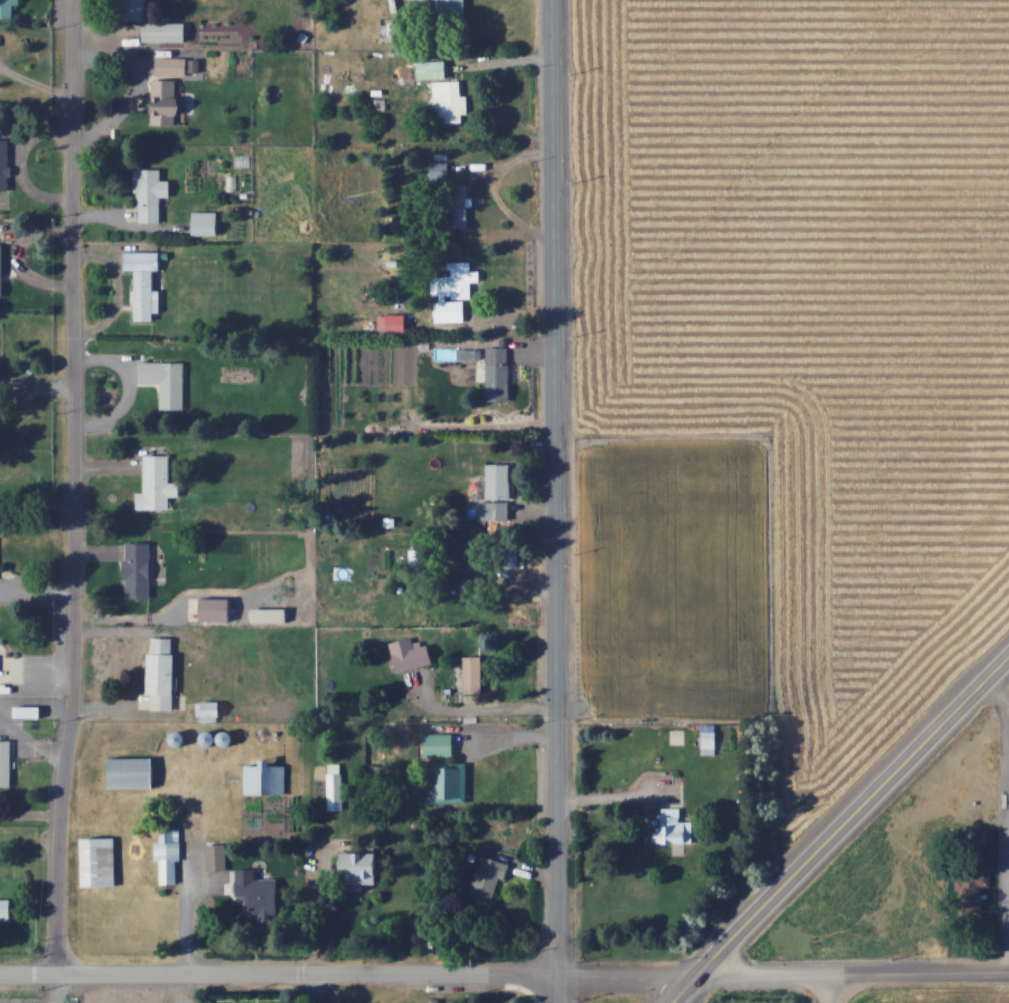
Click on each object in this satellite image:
building: (8, 8)
building: (136, 9)
building: (452, 12)
building: (166, 31)
building: (428, 69)
building: (169, 90)
building: (449, 101)
building: (5, 164)
building: (440, 172)
building: (151, 194)
building: (458, 206)
building: (206, 223)
building: (2, 271)
building: (145, 281)
building: (451, 289)
crop: (808, 318)
building: (395, 323)
building: (495, 372)
building: (162, 381)
building: (158, 484)
road: (72, 487)
building: (496, 493)
road: (553, 501)
building: (138, 570)
crop: (663, 574)
building: (472, 583)
building: (217, 610)
building: (270, 615)
building: (408, 655)
building: (471, 673)
building: (163, 681)
building: (210, 709)
building: (709, 739)
building: (440, 747)
building: (6, 763)
building: (132, 772)
building: (265, 778)
building: (445, 785)
building: (335, 786)
road: (853, 822)
building: (676, 827)
building: (168, 854)
building: (99, 861)
building: (361, 867)
building: (489, 879)
building: (973, 895)
building: (6, 911)
road: (277, 971)
road: (626, 972)
road: (853, 973)
road: (321, 987)
road: (683, 988)
road: (827, 988)
crop: (938, 996)
parking lot: (38, 997)

